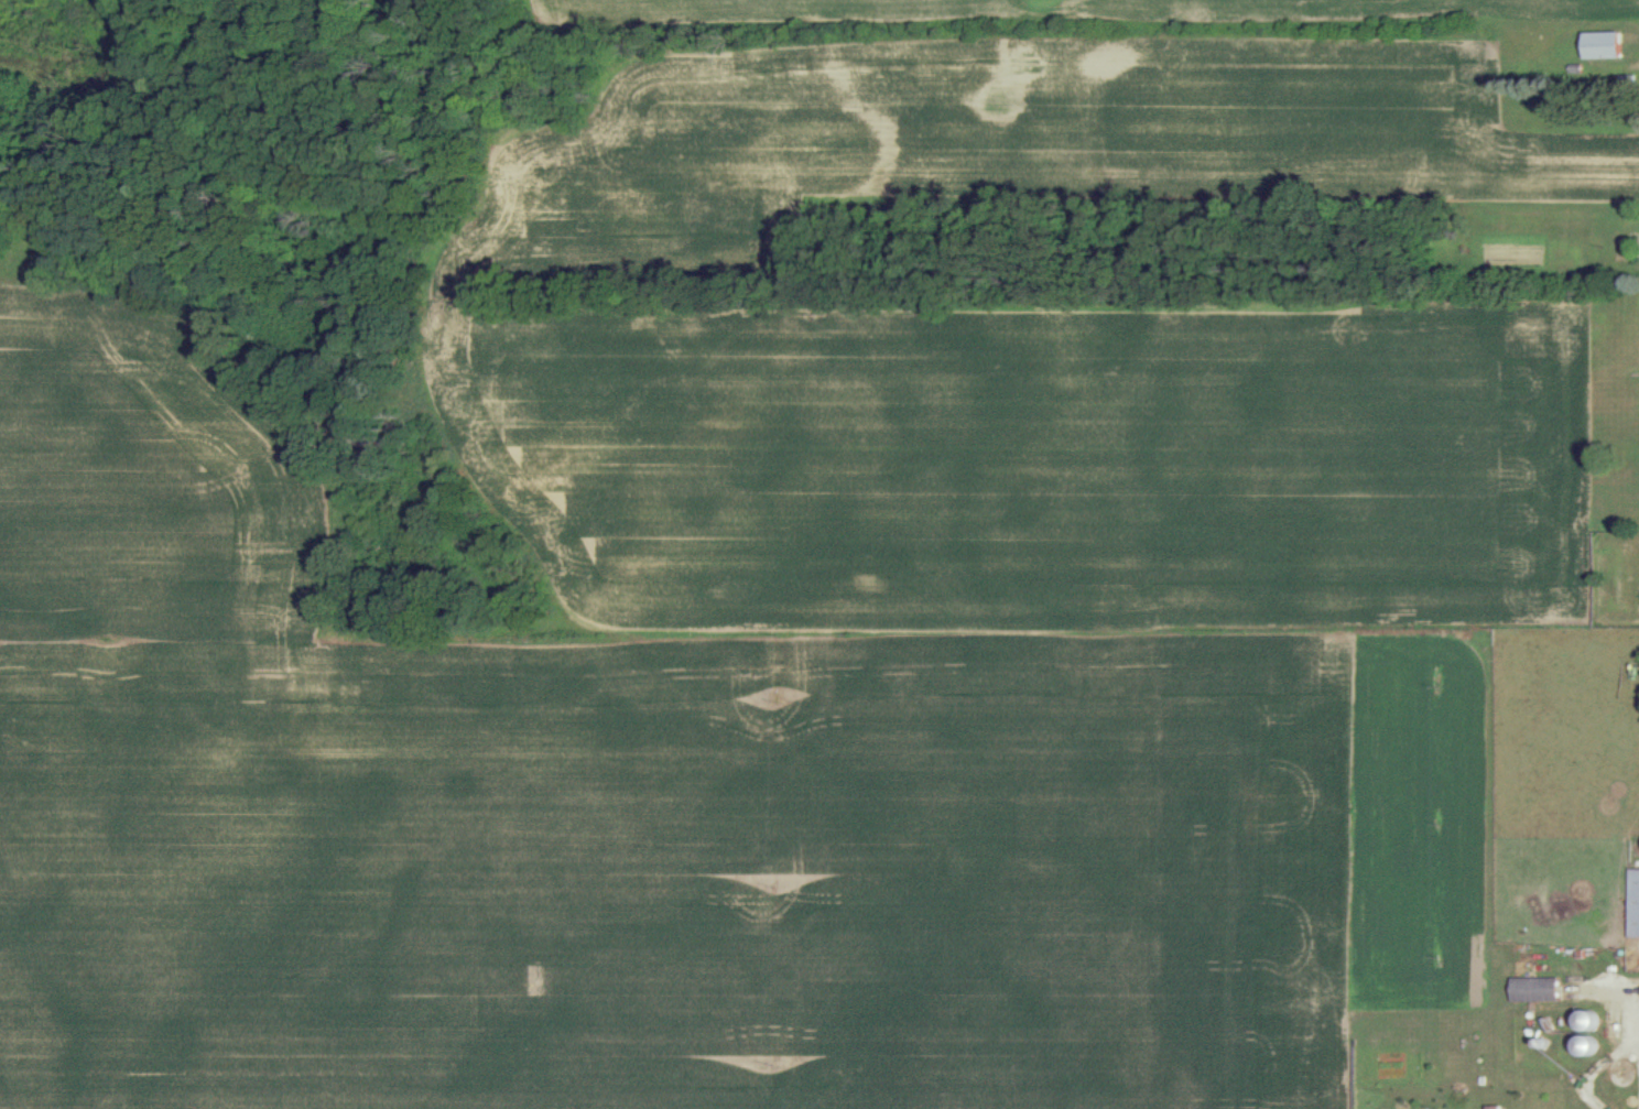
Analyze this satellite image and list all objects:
building: (1602, 44)
building: (337, 546)
building: (1631, 902)
building: (1530, 987)
building: (1609, 1020)
building: (1581, 1045)
road: (1629, 1063)

